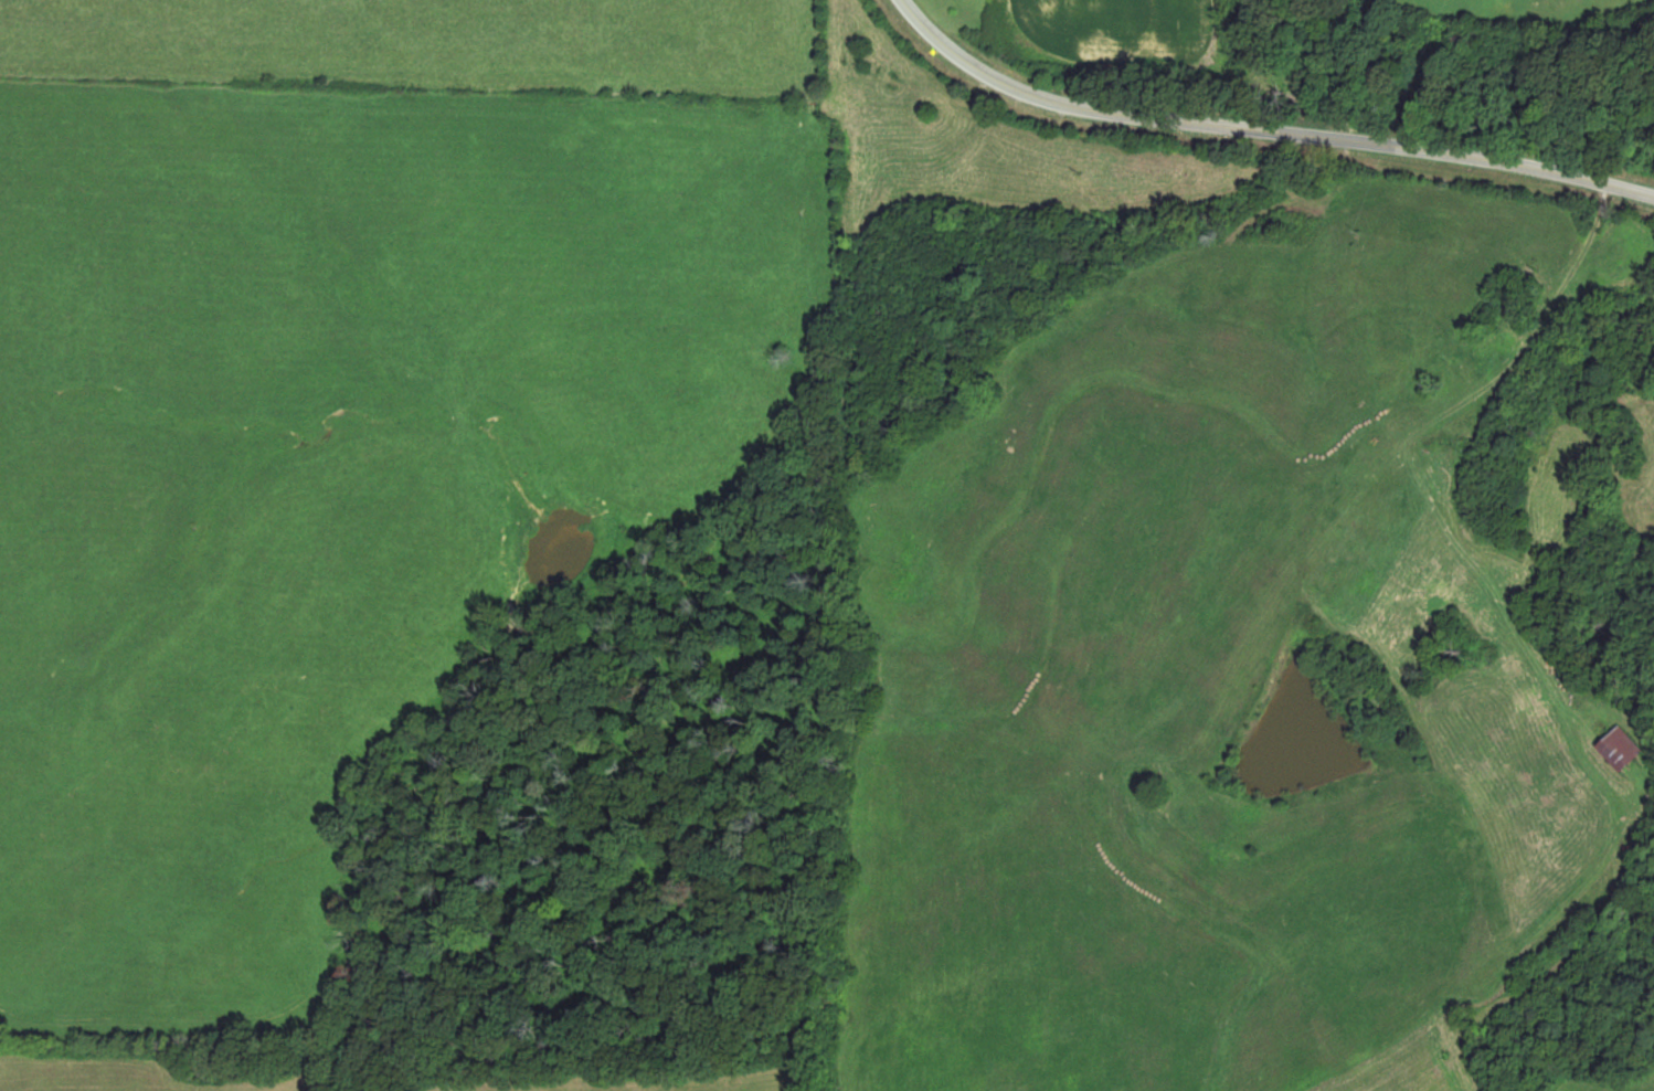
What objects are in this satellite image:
road: (1262, 121)
building: (1620, 749)

